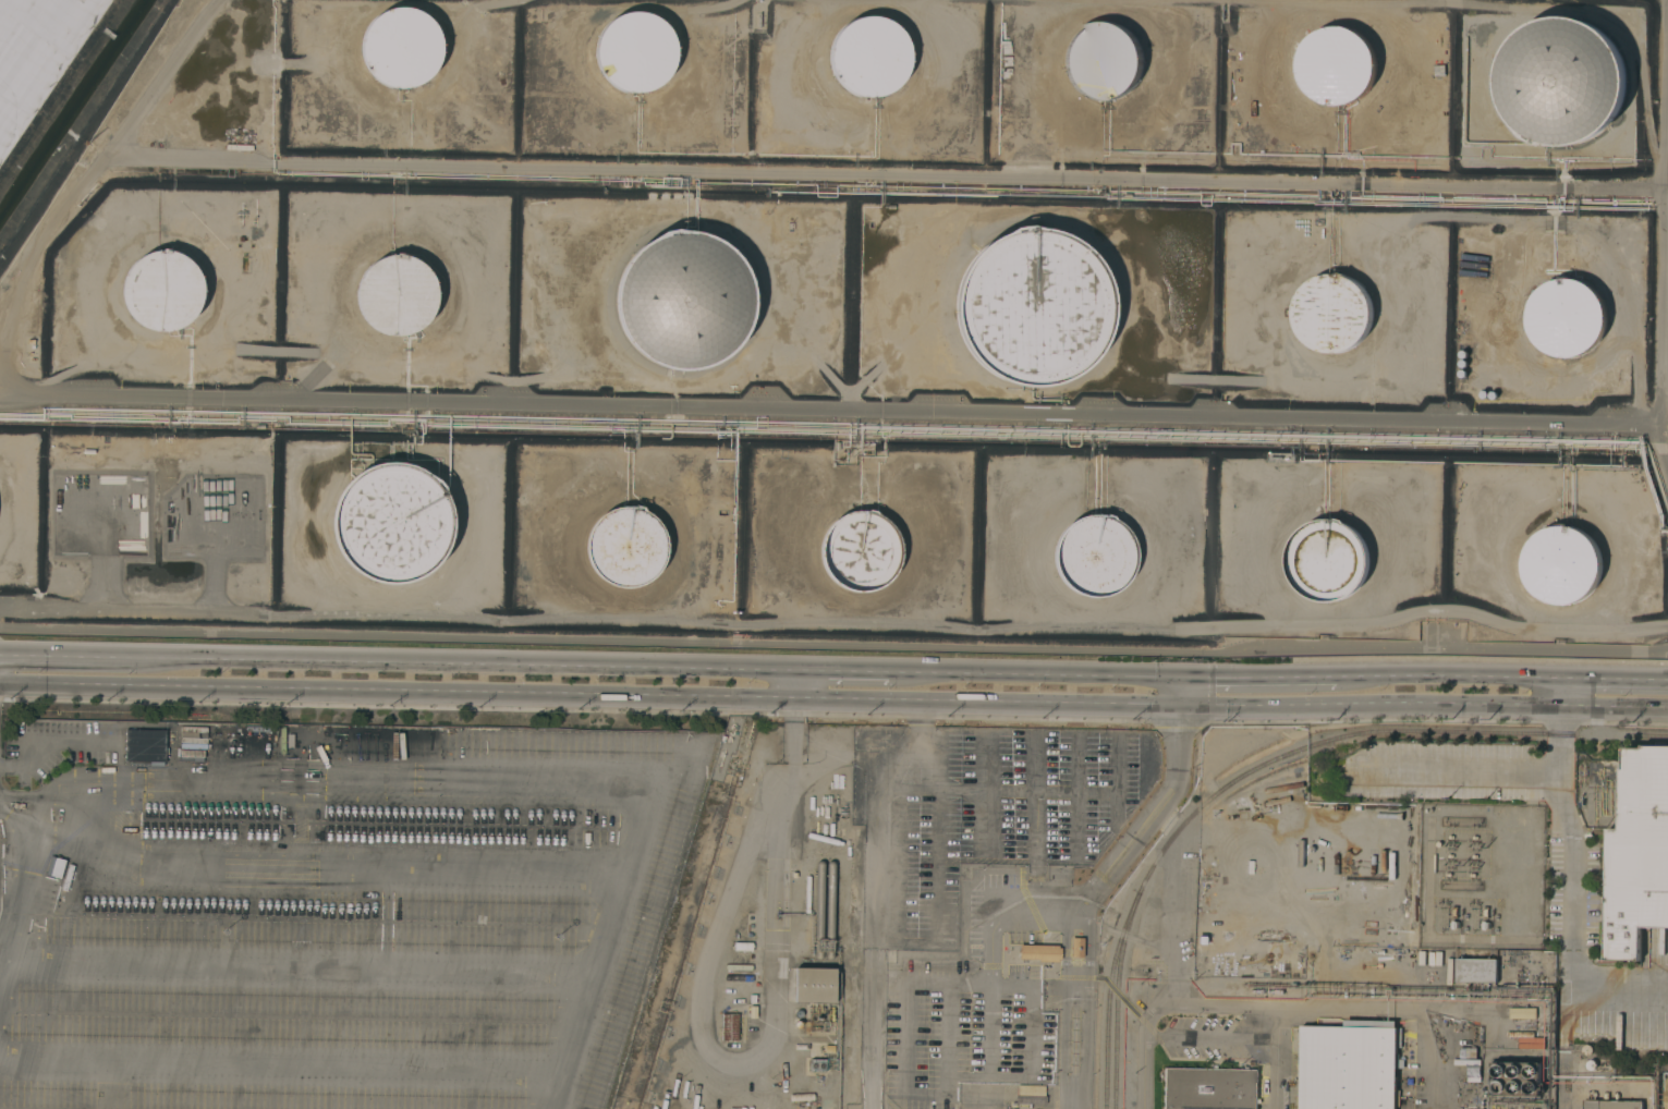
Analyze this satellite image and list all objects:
building: (401, 47)
building: (34, 51)
building: (634, 51)
building: (868, 57)
building: (1103, 60)
building: (1337, 65)
building: (1561, 81)
road: (98, 166)
road: (884, 175)
road: (1660, 233)
building: (162, 291)
building: (395, 294)
building: (683, 300)
building: (1032, 307)
building: (1332, 313)
building: (1567, 316)
road: (826, 411)
building: (391, 523)
building: (625, 546)
building: (860, 551)
building: (1093, 556)
building: (1327, 560)
building: (1561, 564)
road: (96, 657)
road: (495, 663)
road: (864, 671)
road: (1056, 674)
traffic signals: (1181, 677)
road: (1470, 677)
road: (1277, 678)
road: (1617, 679)
road: (398, 692)
road: (1181, 692)
road: (988, 703)
road: (1424, 705)
traffic signals: (1181, 707)
road: (794, 715)
railway: (1365, 732)
road: (51, 744)
building: (145, 746)
road: (485, 777)
building: (1637, 853)
building: (840, 856)
road: (10, 858)
building: (54, 867)
power substation: (1480, 875)
road: (1580, 875)
road: (16, 877)
road: (1097, 894)
building: (818, 909)
building: (828, 910)
road: (887, 940)
building: (742, 946)
building: (1075, 947)
building: (1039, 952)
building: (1476, 971)
building: (813, 985)
railway: (1109, 1004)
road: (1216, 1004)
railway: (1118, 1006)
building: (1511, 1013)
road: (870, 1020)
building: (729, 1026)
building: (1526, 1039)
road: (904, 1048)
road: (758, 1056)
building: (816, 1064)
building: (1349, 1067)
building: (1515, 1077)
building: (1209, 1088)
building: (1031, 1090)
building: (1666, 1094)
building: (809, 1098)
building: (1611, 1105)

